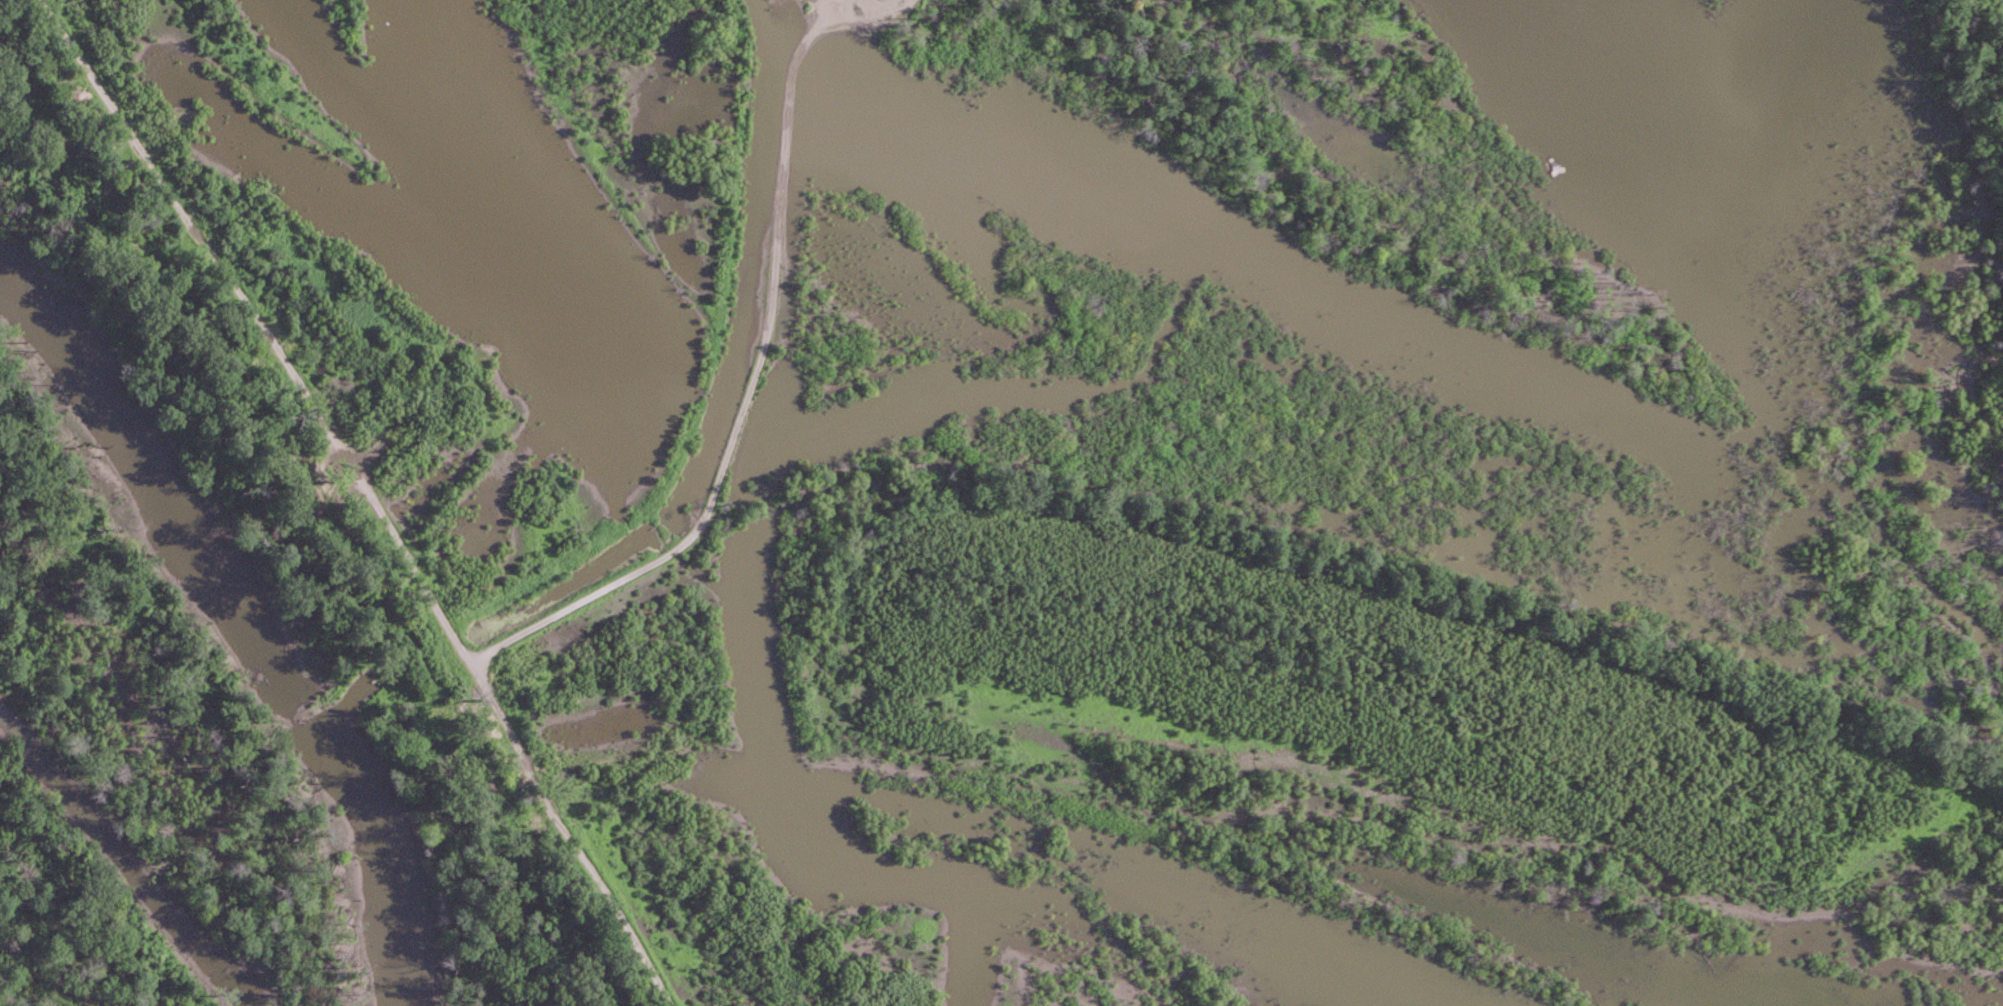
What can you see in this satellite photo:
road: (423, 492)

